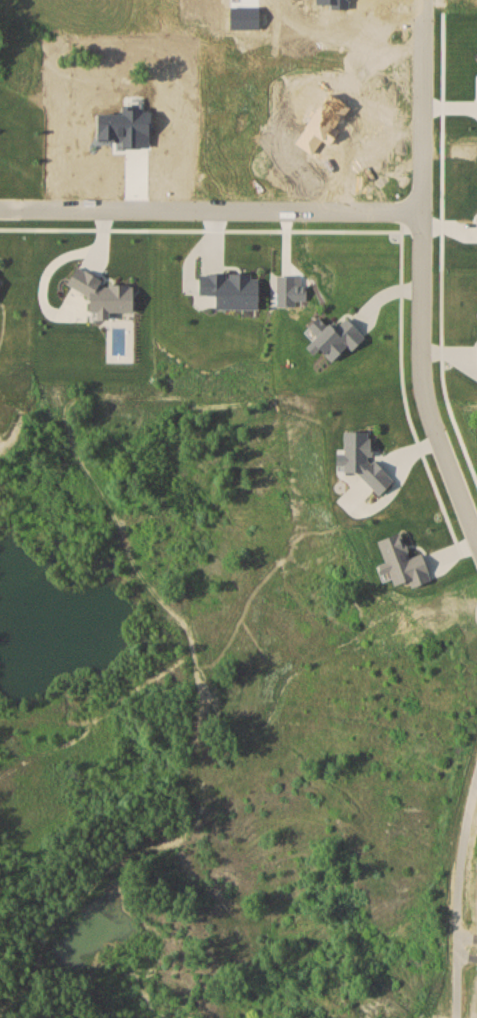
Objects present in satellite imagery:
building: (337, 3)
building: (321, 122)
building: (124, 128)
road: (211, 209)
road: (202, 235)
road: (445, 243)
road: (422, 272)
road: (403, 282)
building: (227, 289)
building: (283, 289)
building: (104, 295)
building: (329, 336)
building: (476, 355)
building: (358, 459)
building: (399, 563)
road: (460, 894)
road: (468, 953)

